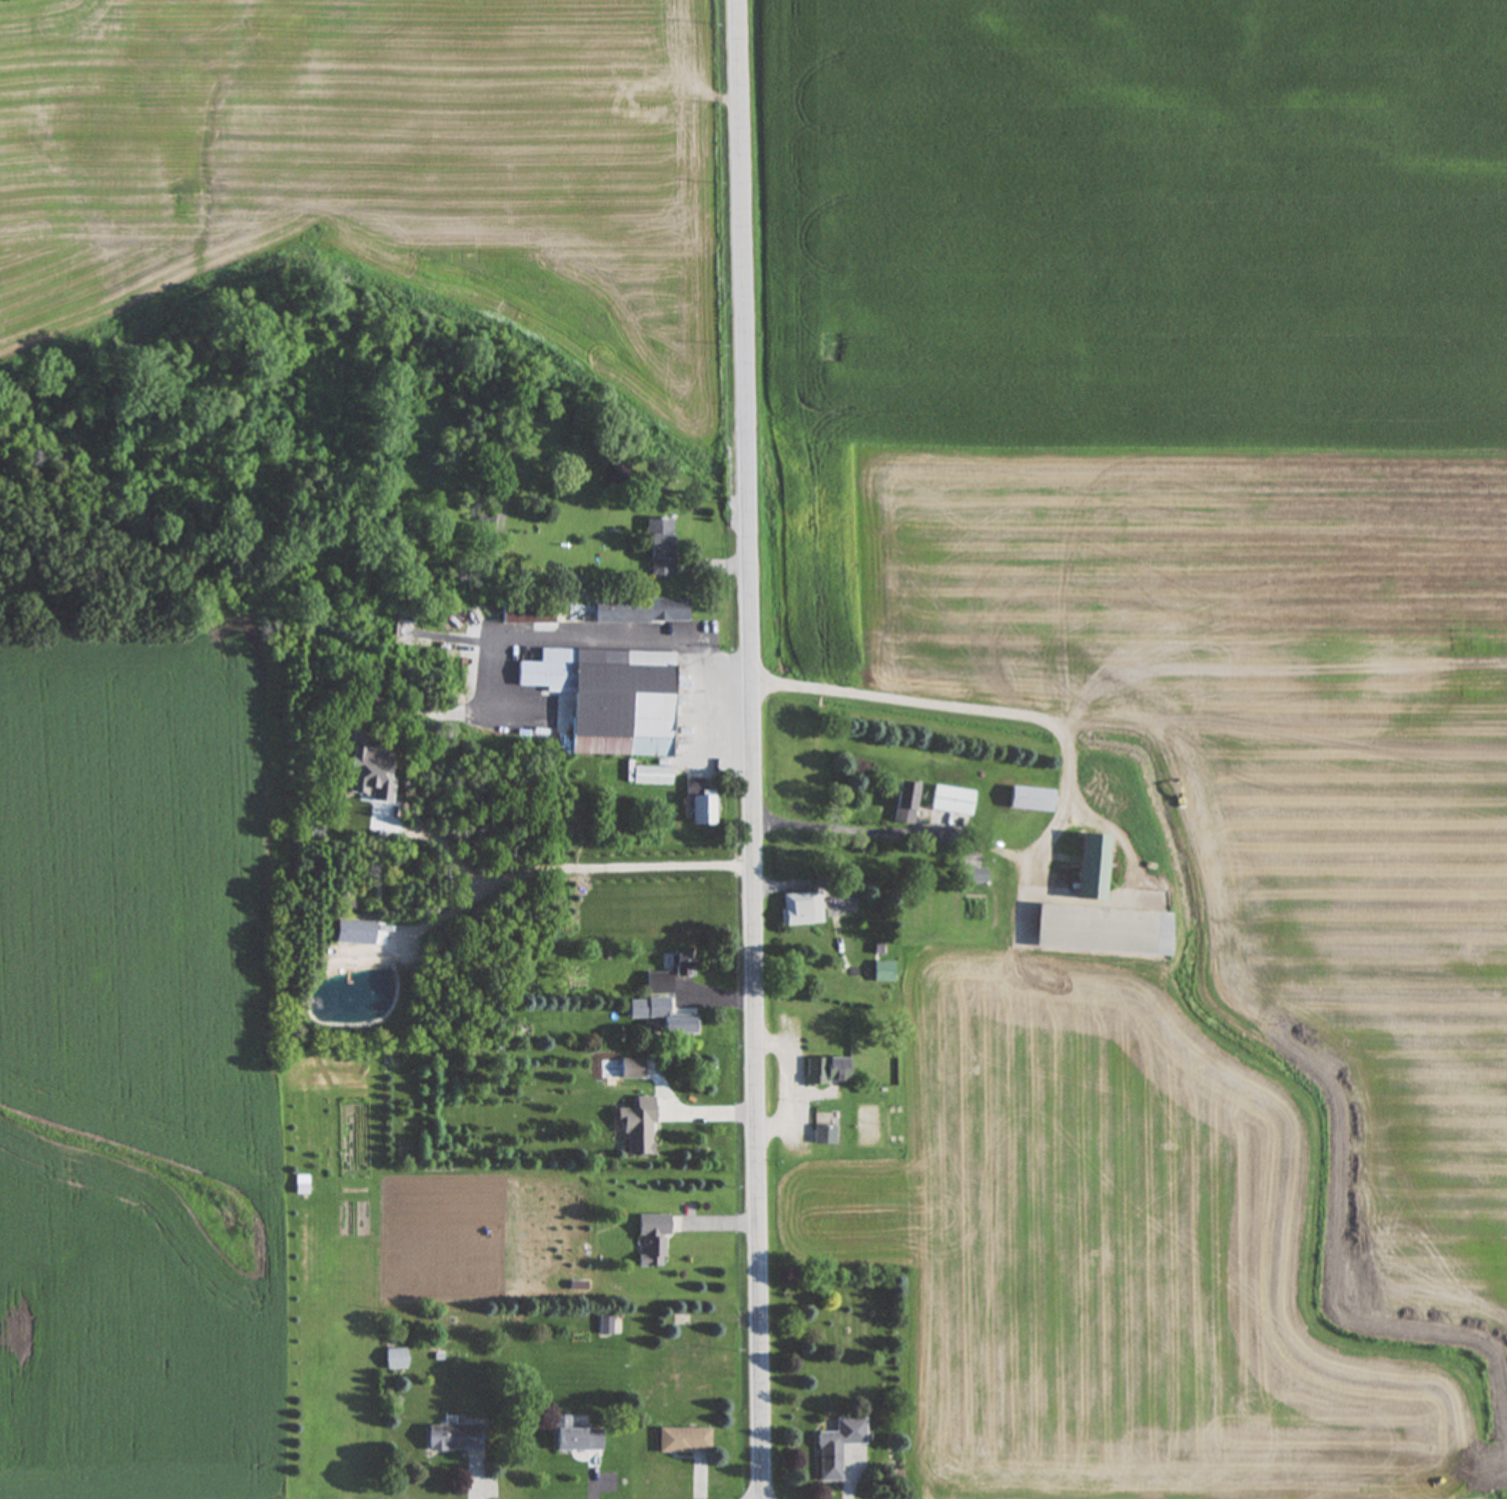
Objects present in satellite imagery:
building: (660, 548)
building: (641, 610)
building: (528, 612)
road: (629, 630)
building: (404, 632)
building: (609, 697)
road: (750, 749)
building: (656, 776)
road: (1067, 779)
building: (1031, 800)
building: (952, 801)
building: (700, 803)
building: (905, 803)
road: (566, 863)
building: (1091, 868)
building: (975, 877)
building: (801, 909)
building: (1102, 931)
building: (884, 972)
building: (669, 976)
building: (663, 1016)
building: (827, 1072)
building: (638, 1128)
building: (824, 1136)
building: (652, 1242)
building: (395, 1360)
building: (561, 1423)
building: (454, 1438)
building: (577, 1440)
building: (684, 1440)
building: (838, 1447)

